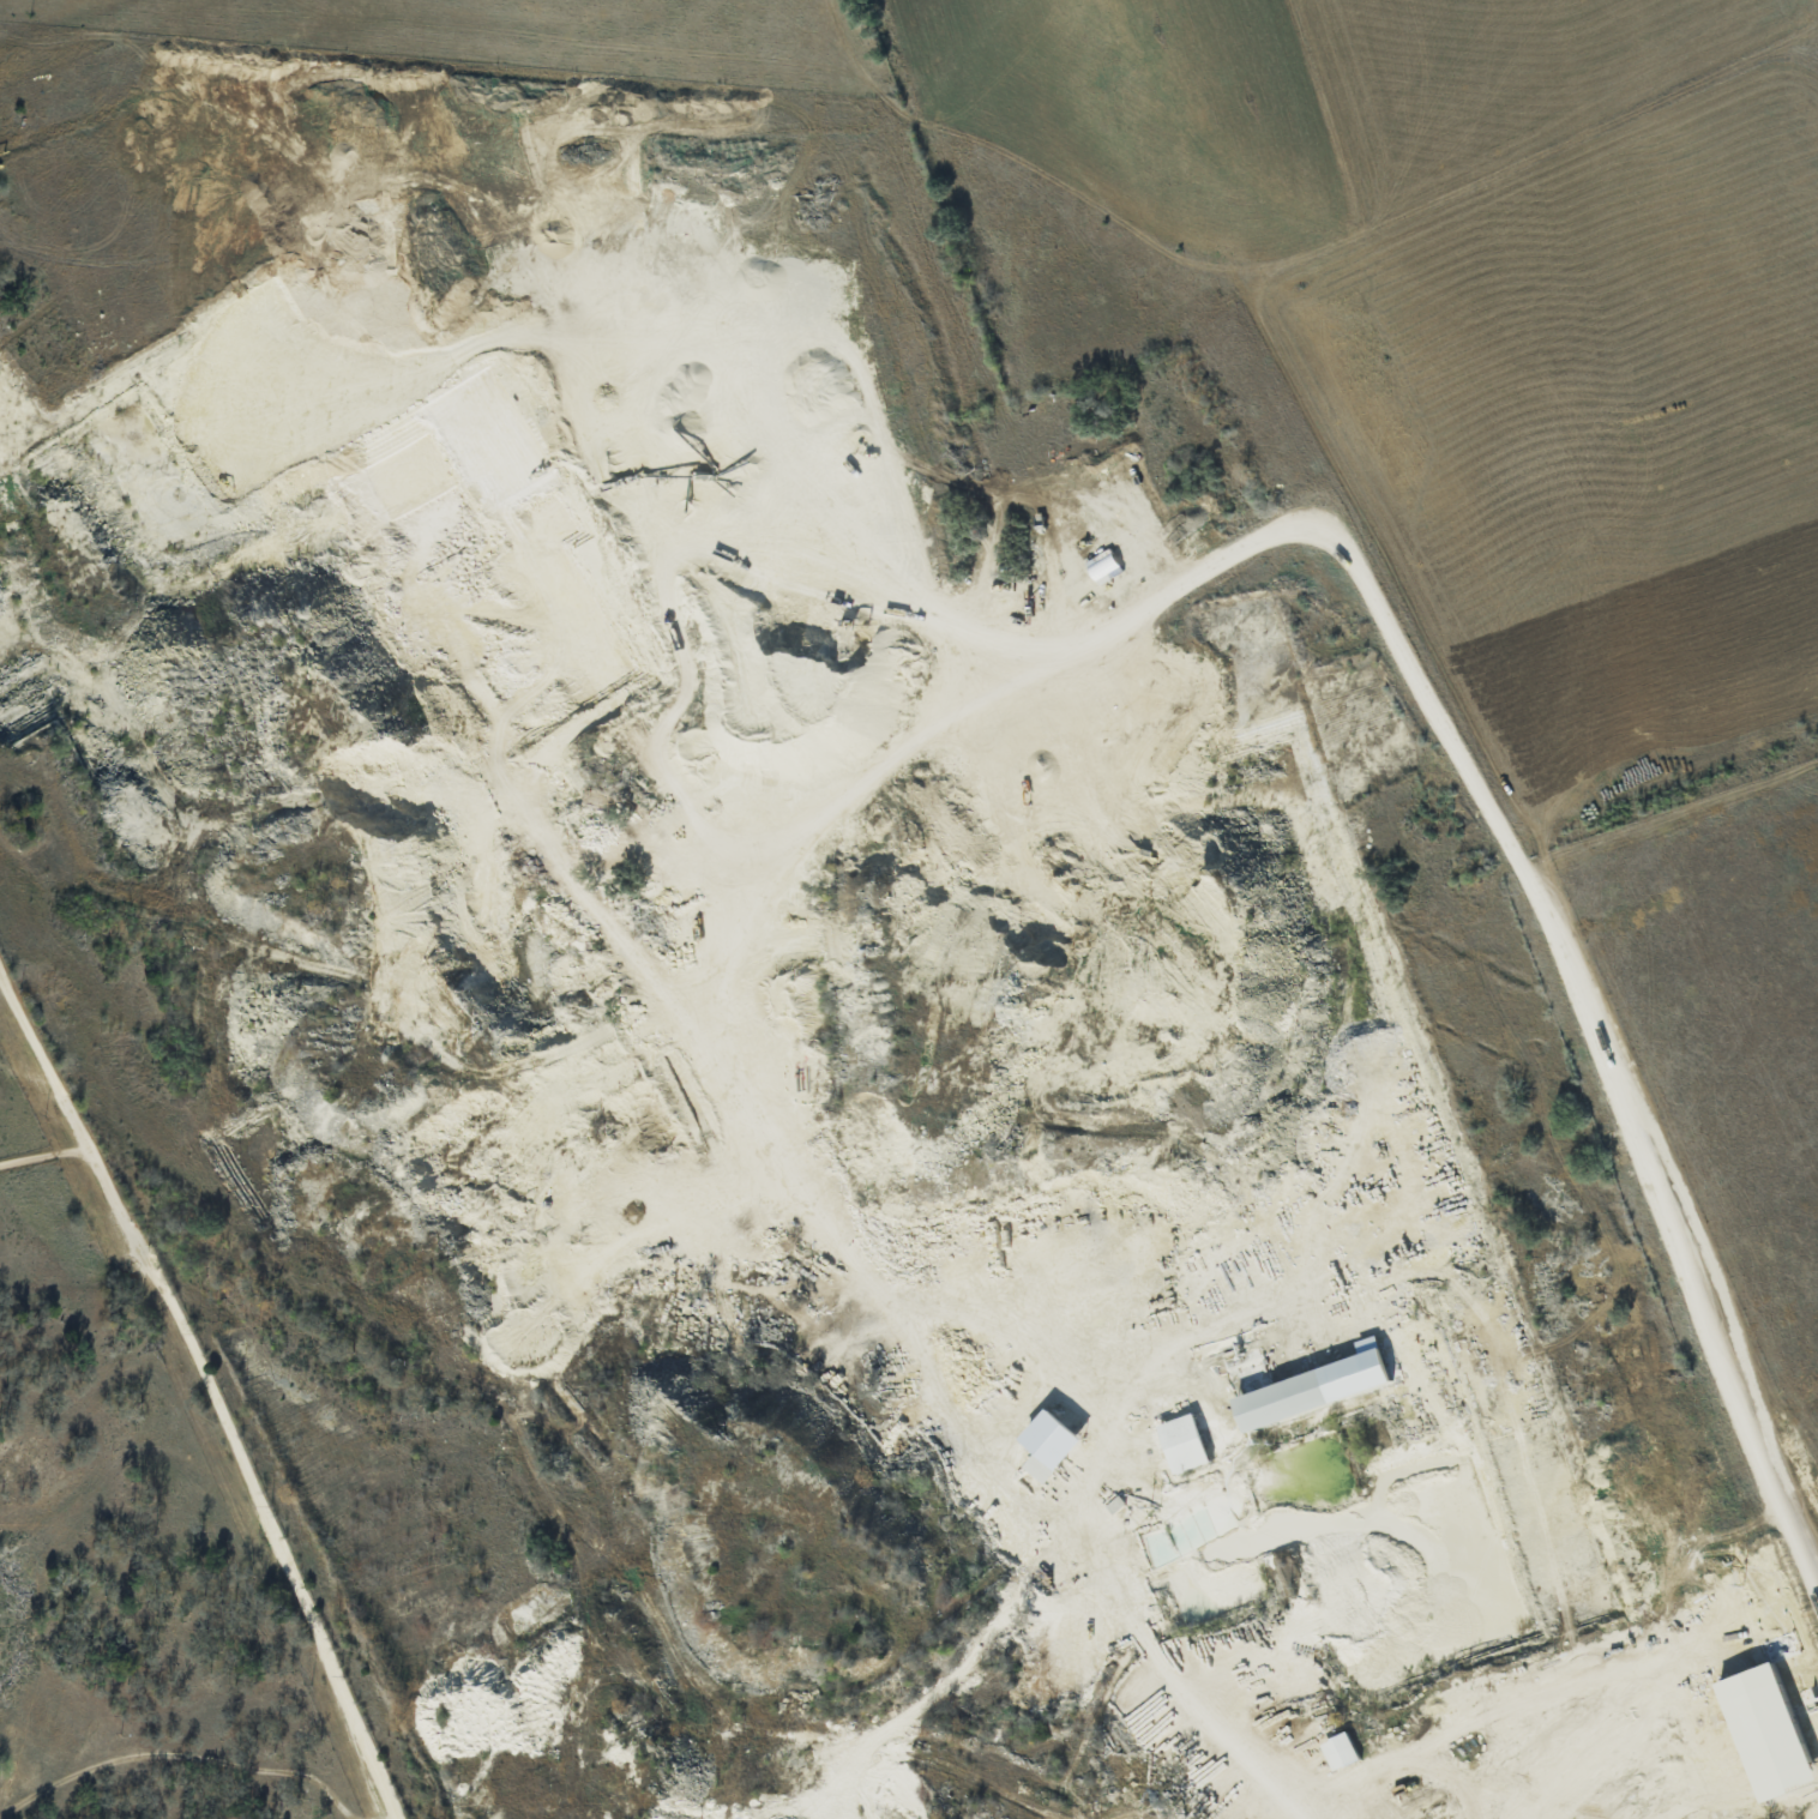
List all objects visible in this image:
road: (44, 1155)
quarry: (843, 1157)
building: (1312, 1387)
road: (207, 1389)
building: (1181, 1442)
building: (1037, 1466)
road: (177, 1752)
building: (1338, 1752)
road: (378, 1815)

